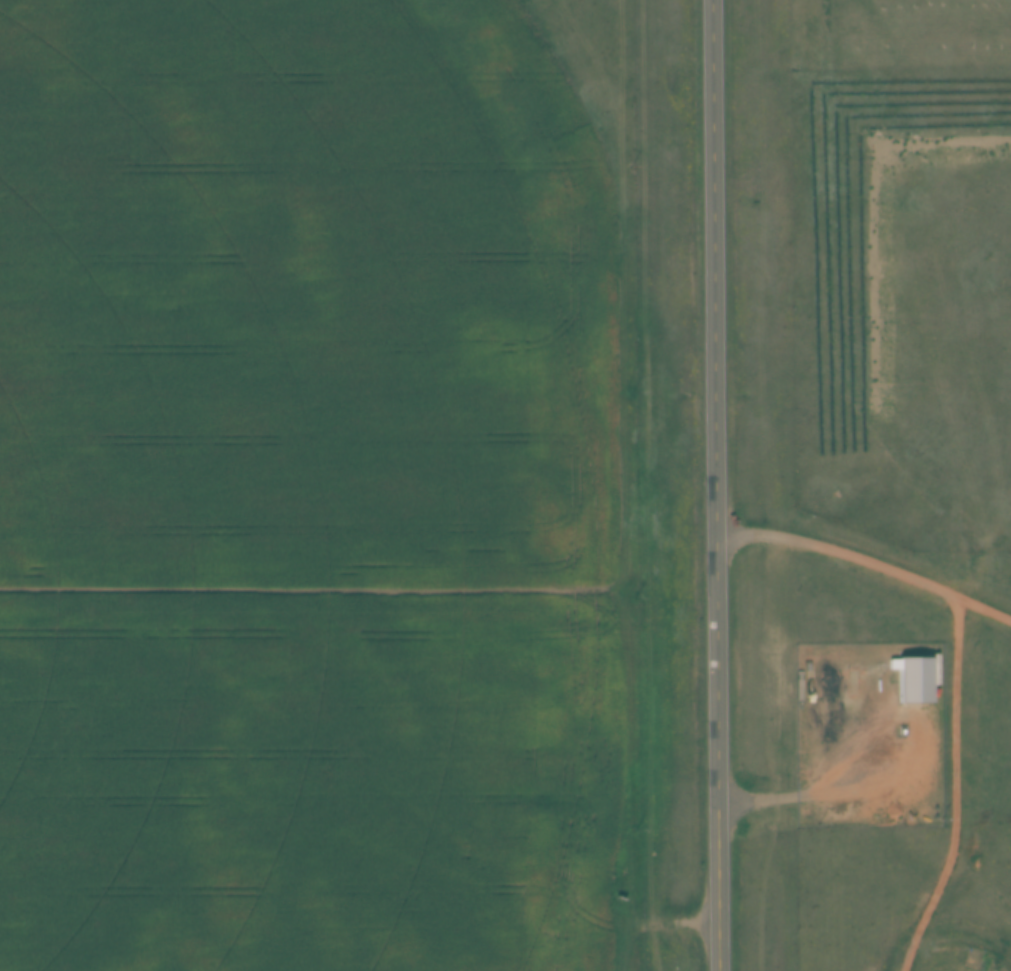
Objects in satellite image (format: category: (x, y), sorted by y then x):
road: (713, 485)
road: (866, 558)
building: (914, 677)
road: (833, 785)

